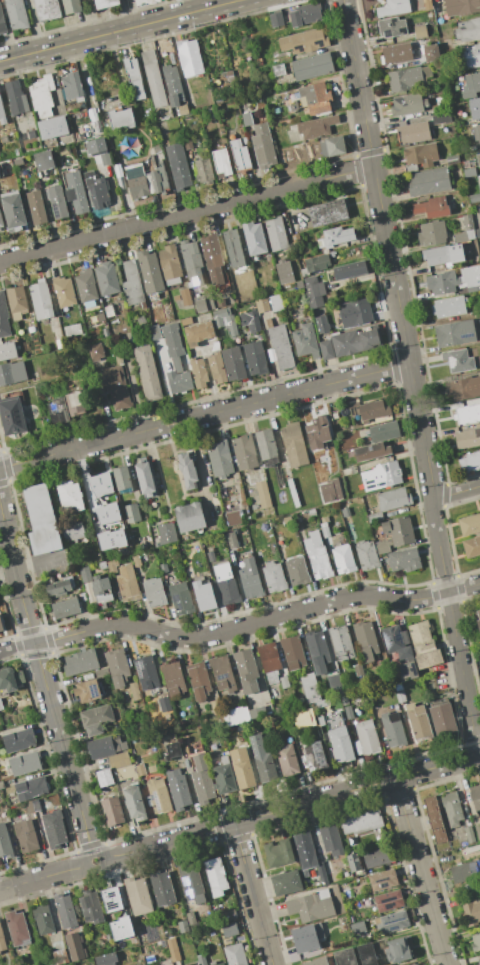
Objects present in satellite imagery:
building: (132, 0)
building: (106, 3)
building: (427, 5)
building: (71, 6)
building: (461, 7)
building: (393, 8)
building: (48, 9)
building: (16, 14)
building: (305, 14)
building: (276, 19)
building: (439, 21)
building: (2, 22)
building: (392, 27)
road: (119, 30)
building: (468, 30)
building: (420, 31)
building: (303, 41)
building: (397, 53)
building: (431, 53)
building: (471, 55)
building: (189, 57)
building: (312, 66)
building: (278, 70)
building: (133, 74)
building: (154, 78)
building: (405, 78)
building: (71, 85)
building: (173, 85)
building: (470, 86)
building: (42, 95)
building: (316, 97)
building: (16, 98)
building: (407, 104)
building: (231, 105)
building: (474, 108)
building: (1, 109)
building: (183, 109)
building: (276, 110)
building: (120, 118)
building: (247, 119)
building: (441, 119)
building: (52, 127)
building: (317, 127)
building: (476, 132)
building: (413, 133)
building: (187, 143)
building: (96, 145)
building: (263, 145)
building: (333, 146)
building: (157, 150)
building: (240, 156)
building: (420, 157)
building: (103, 159)
building: (478, 159)
building: (43, 160)
building: (452, 160)
building: (221, 162)
building: (465, 164)
building: (178, 165)
building: (203, 171)
building: (469, 172)
building: (159, 180)
building: (136, 181)
building: (428, 182)
building: (97, 190)
building: (76, 192)
building: (474, 198)
building: (56, 201)
building: (37, 207)
building: (432, 207)
building: (13, 209)
building: (479, 211)
building: (328, 212)
road: (186, 213)
building: (1, 220)
building: (0, 229)
building: (466, 230)
building: (431, 233)
building: (477, 233)
building: (276, 234)
building: (338, 236)
building: (254, 238)
building: (234, 249)
building: (442, 254)
building: (479, 256)
building: (192, 261)
building: (214, 261)
building: (317, 263)
building: (170, 264)
building: (350, 270)
building: (284, 271)
building: (150, 272)
building: (303, 273)
building: (471, 277)
building: (106, 278)
building: (442, 282)
building: (132, 284)
building: (86, 286)
building: (63, 291)
building: (314, 292)
building: (185, 297)
building: (176, 298)
building: (41, 300)
building: (16, 301)
building: (204, 303)
building: (262, 305)
building: (449, 306)
building: (360, 311)
building: (3, 317)
building: (224, 320)
building: (185, 321)
building: (250, 321)
building: (269, 322)
building: (72, 330)
building: (105, 332)
building: (198, 333)
building: (455, 333)
building: (305, 341)
building: (350, 342)
building: (59, 343)
building: (281, 346)
building: (8, 351)
building: (95, 351)
building: (255, 358)
building: (176, 359)
building: (458, 360)
building: (232, 363)
building: (216, 367)
building: (198, 372)
building: (147, 373)
building: (6, 374)
building: (34, 376)
road: (411, 377)
building: (114, 387)
building: (463, 388)
building: (75, 398)
building: (58, 409)
building: (369, 411)
building: (12, 413)
road: (204, 414)
building: (467, 414)
building: (384, 431)
building: (318, 433)
building: (467, 438)
building: (294, 445)
building: (266, 447)
building: (244, 452)
building: (373, 452)
building: (220, 459)
building: (469, 463)
building: (188, 470)
building: (381, 476)
building: (122, 479)
building: (145, 479)
building: (100, 484)
building: (330, 489)
road: (457, 492)
building: (293, 493)
building: (263, 494)
building: (69, 495)
building: (393, 499)
building: (479, 508)
building: (345, 510)
building: (310, 512)
building: (106, 513)
building: (131, 513)
building: (189, 517)
building: (375, 517)
building: (233, 518)
building: (287, 519)
building: (41, 520)
building: (469, 524)
building: (325, 530)
building: (398, 530)
building: (73, 532)
building: (165, 534)
building: (110, 539)
building: (230, 539)
building: (382, 546)
building: (471, 547)
building: (316, 555)
building: (366, 555)
building: (210, 556)
building: (343, 559)
building: (404, 560)
building: (102, 565)
building: (112, 566)
building: (297, 571)
building: (189, 572)
building: (85, 574)
building: (95, 577)
building: (274, 577)
building: (250, 579)
building: (226, 582)
building: (127, 583)
building: (60, 586)
building: (100, 586)
building: (154, 592)
building: (204, 595)
building: (103, 598)
building: (181, 598)
building: (101, 606)
building: (65, 608)
building: (478, 620)
road: (257, 623)
building: (1, 626)
building: (366, 640)
building: (397, 642)
building: (341, 643)
building: (423, 645)
road: (16, 646)
building: (317, 651)
building: (293, 653)
building: (269, 661)
building: (80, 662)
building: (117, 667)
building: (407, 670)
building: (478, 670)
building: (246, 671)
building: (146, 672)
building: (102, 673)
building: (222, 673)
building: (173, 678)
building: (10, 679)
road: (44, 680)
building: (198, 681)
building: (284, 682)
building: (333, 682)
building: (309, 688)
building: (87, 691)
building: (134, 691)
building: (401, 696)
building: (344, 700)
building: (165, 704)
building: (1, 705)
building: (349, 712)
building: (256, 713)
building: (235, 716)
building: (442, 718)
building: (96, 719)
building: (319, 720)
building: (418, 721)
building: (392, 730)
building: (367, 738)
building: (19, 740)
building: (342, 745)
building: (105, 746)
building: (184, 750)
building: (172, 751)
building: (314, 756)
building: (224, 759)
building: (262, 759)
building: (118, 760)
building: (287, 760)
building: (25, 764)
building: (152, 768)
building: (242, 768)
building: (140, 770)
building: (125, 773)
building: (104, 778)
building: (224, 779)
building: (201, 780)
building: (2, 785)
building: (31, 788)
building: (178, 789)
building: (159, 795)
building: (475, 796)
building: (135, 803)
building: (35, 805)
building: (431, 805)
building: (29, 806)
road: (291, 807)
building: (452, 809)
building: (112, 811)
building: (4, 812)
building: (435, 820)
building: (361, 822)
building: (54, 829)
building: (477, 830)
building: (26, 835)
building: (439, 835)
building: (469, 835)
building: (330, 839)
building: (5, 842)
building: (303, 842)
building: (278, 852)
building: (378, 857)
road: (100, 858)
building: (353, 863)
building: (307, 864)
building: (324, 871)
road: (420, 871)
building: (465, 871)
road: (50, 875)
building: (215, 877)
building: (383, 880)
building: (191, 882)
building: (286, 882)
road: (6, 886)
building: (161, 887)
road: (252, 894)
building: (138, 895)
building: (111, 901)
building: (388, 901)
building: (91, 906)
building: (310, 907)
building: (65, 911)
building: (472, 912)
building: (230, 915)
building: (190, 917)
building: (128, 918)
building: (43, 919)
building: (392, 922)
building: (182, 926)
building: (18, 928)
building: (120, 928)
building: (229, 929)
building: (306, 937)
building: (2, 941)
building: (475, 942)
building: (76, 946)
building: (173, 949)
building: (397, 950)
building: (235, 954)
building: (366, 954)
building: (59, 957)
building: (343, 957)
building: (105, 959)
building: (315, 961)
building: (478, 962)
building: (187, 964)
building: (193, 964)
building: (196, 964)
building: (219, 964)
building: (411, 964)

